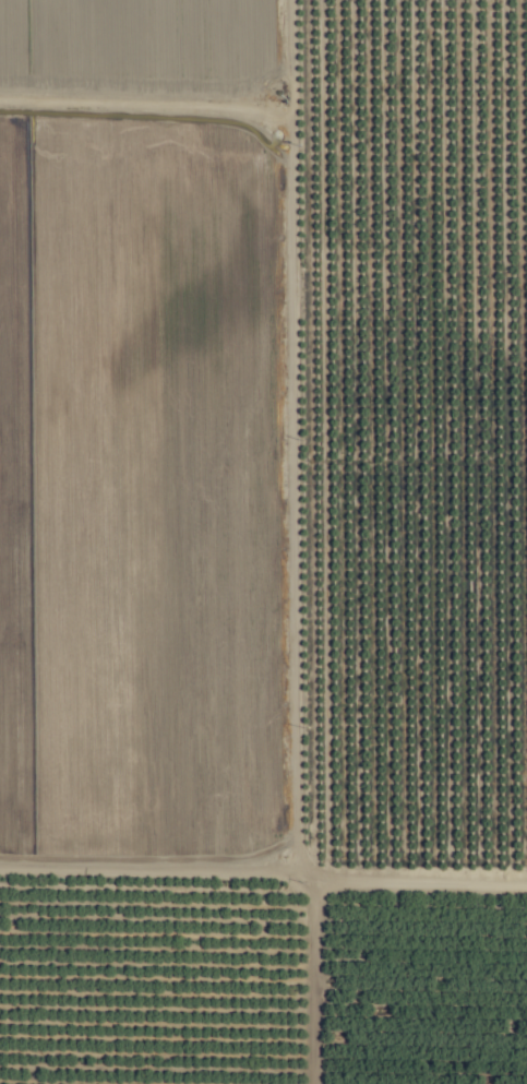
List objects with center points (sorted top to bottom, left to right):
road: (395, 879)
road: (143, 914)
road: (314, 991)

